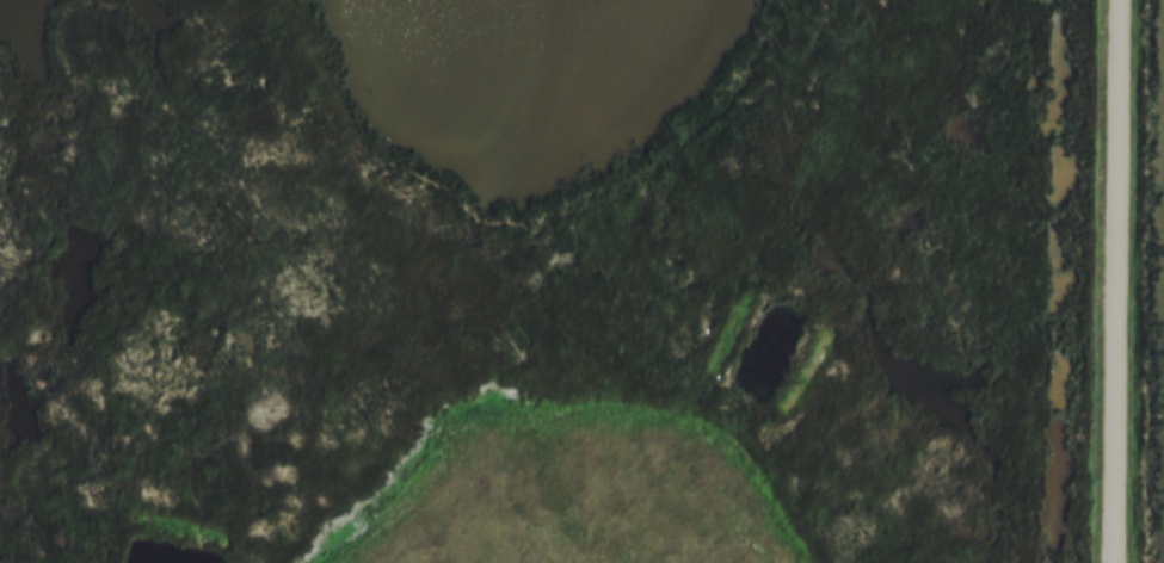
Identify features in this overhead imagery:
road: (1115, 281)

